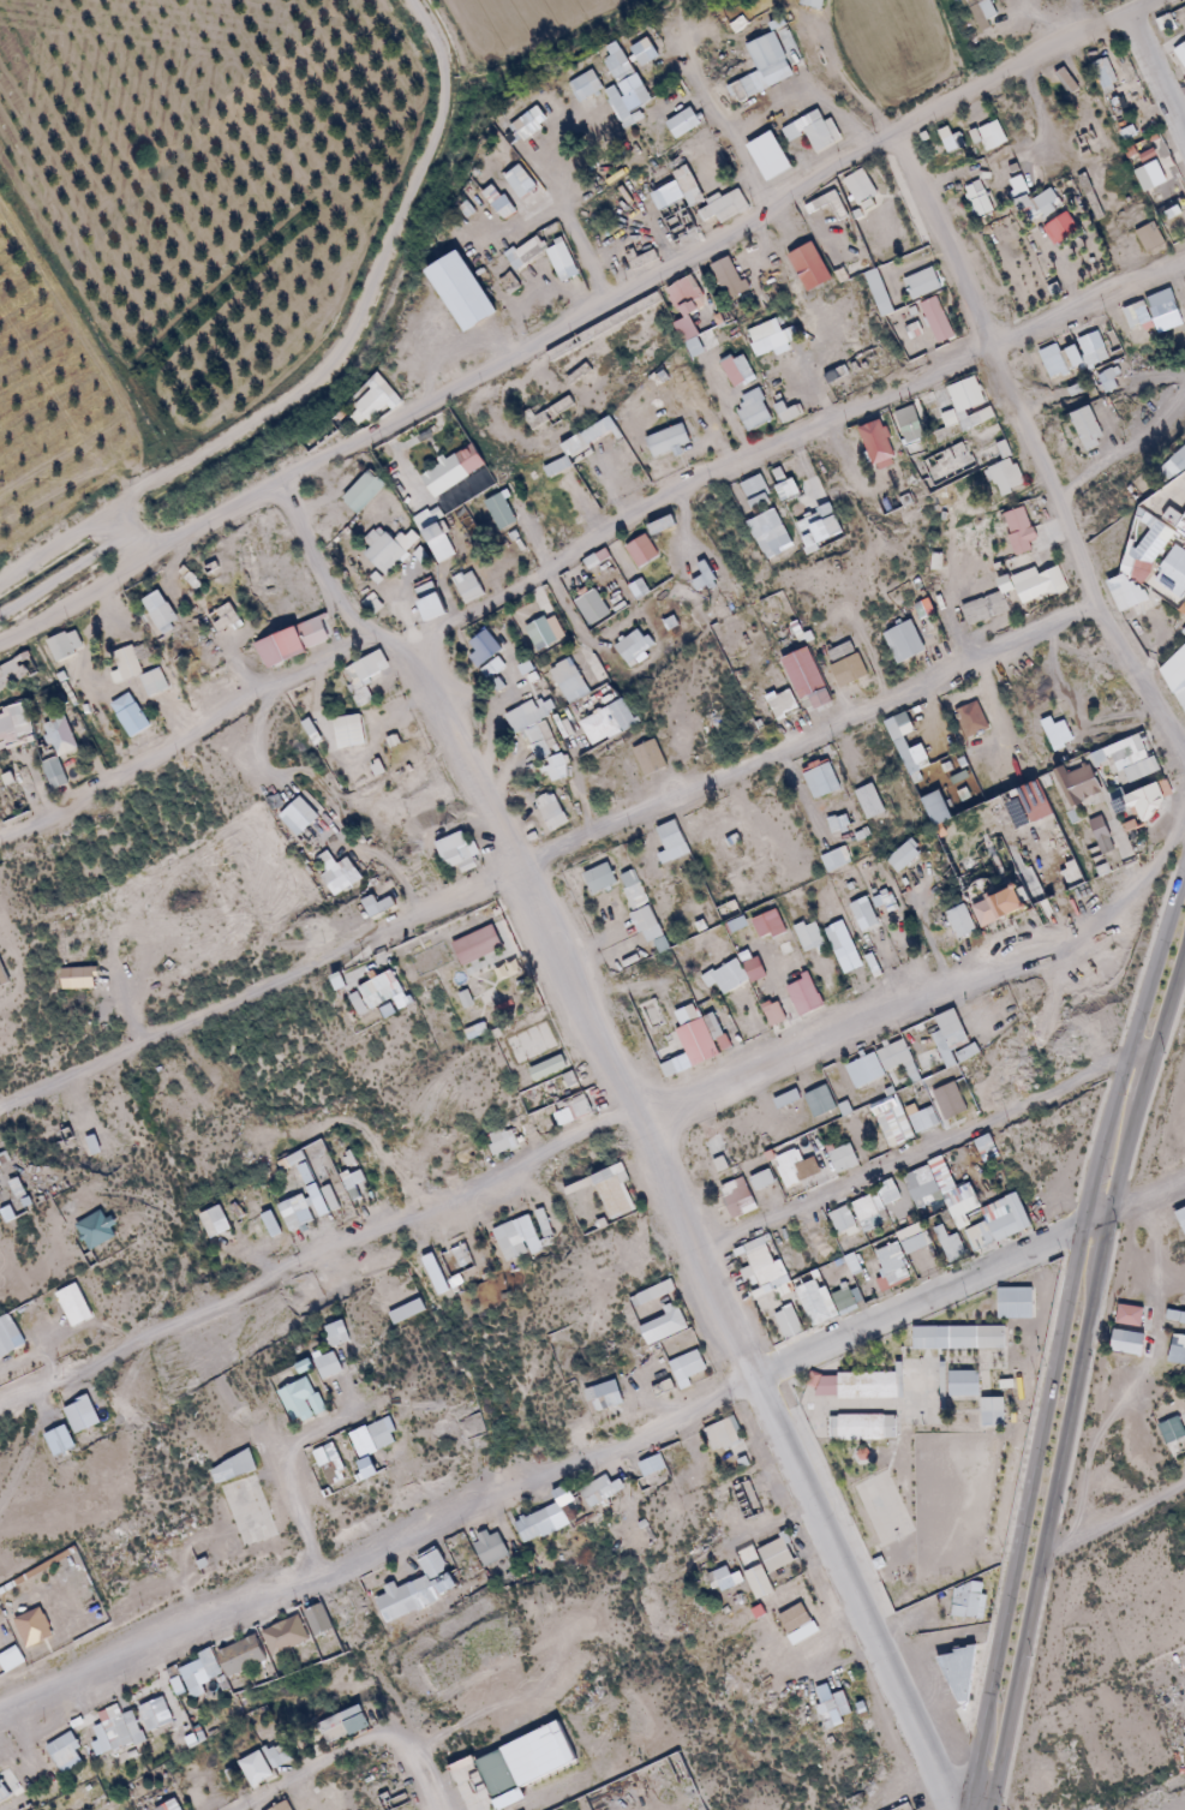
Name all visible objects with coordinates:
road: (427, 41)
road: (1151, 85)
road: (724, 131)
road: (564, 211)
road: (714, 240)
road: (289, 394)
road: (786, 440)
road: (1028, 452)
road: (1123, 452)
road: (1175, 500)
road: (209, 522)
road: (125, 534)
road: (311, 567)
road: (62, 575)
road: (73, 603)
road: (186, 742)
road: (329, 800)
road: (547, 858)
road: (605, 1129)
road: (928, 1148)
road: (675, 1200)
road: (1059, 1337)
road: (1078, 1381)
road: (594, 1451)
road: (1114, 1523)

